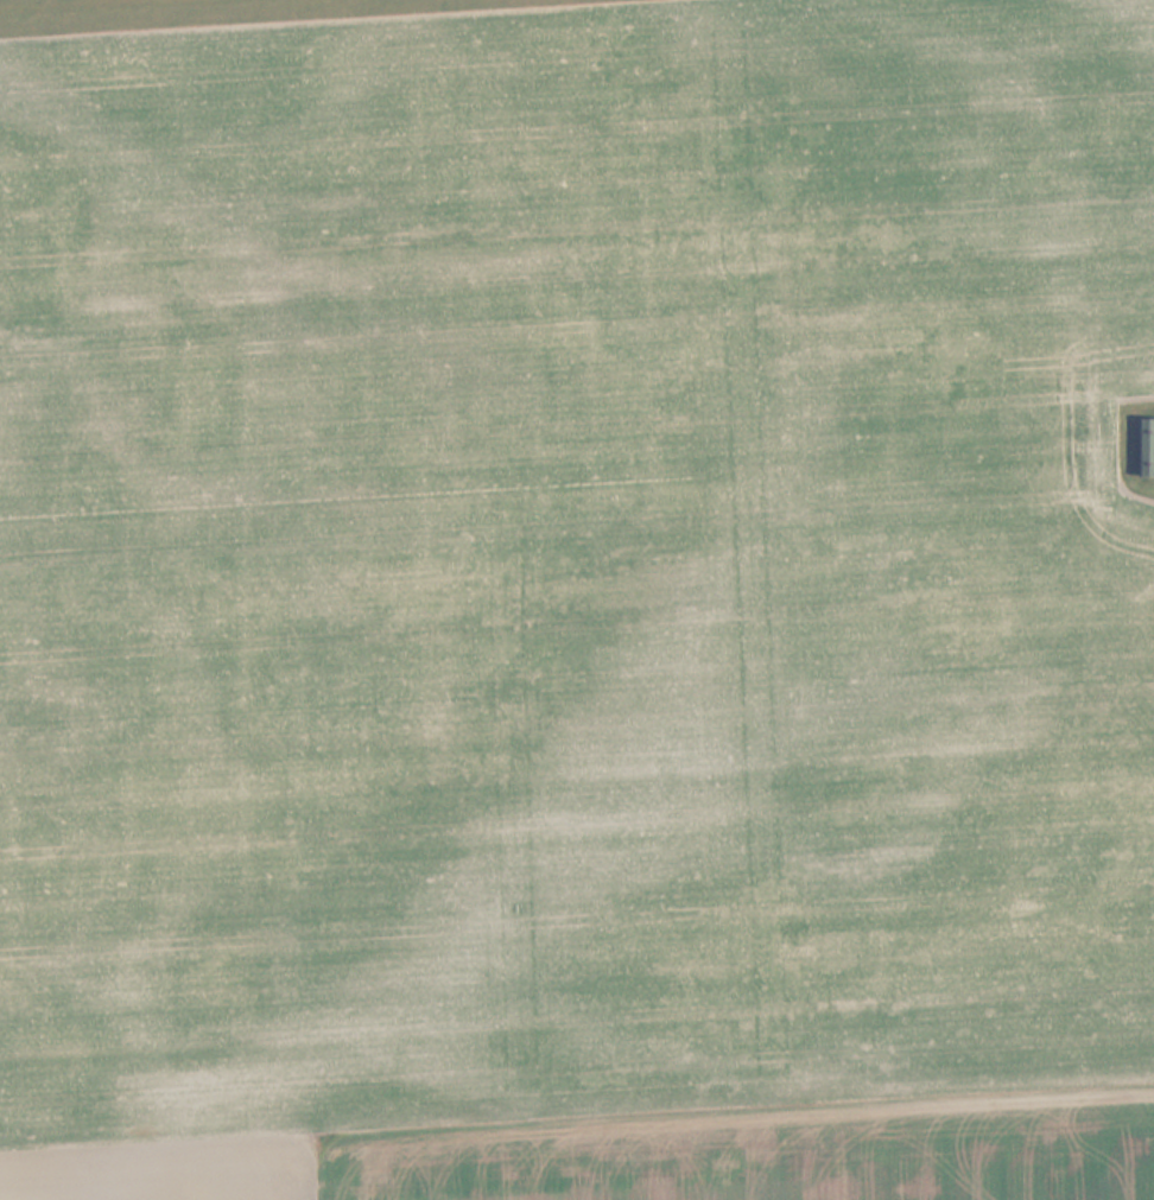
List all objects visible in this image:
building: (1149, 446)

